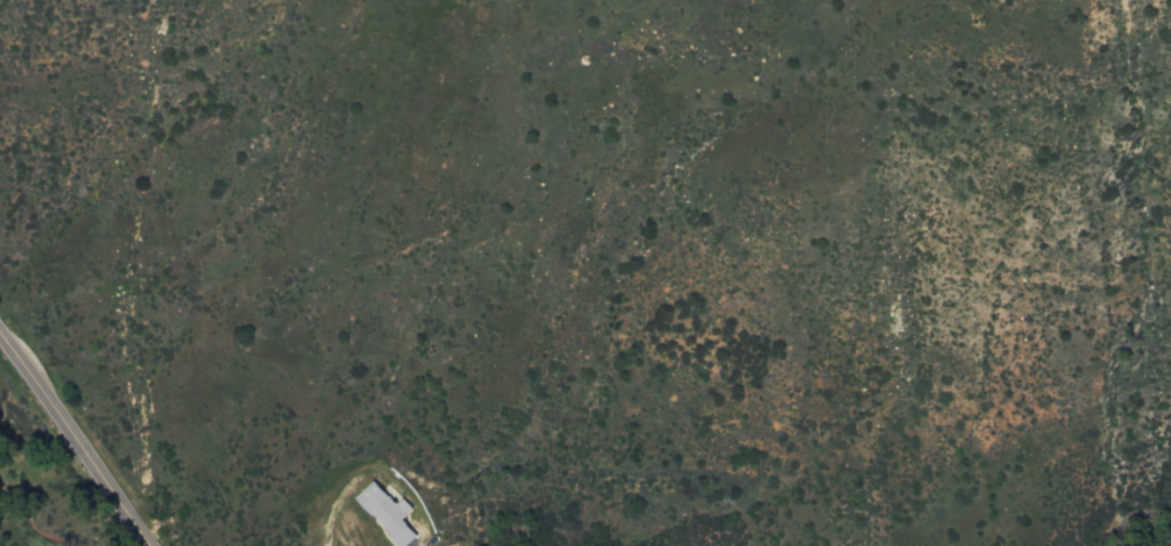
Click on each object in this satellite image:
road: (71, 441)
building: (386, 513)

